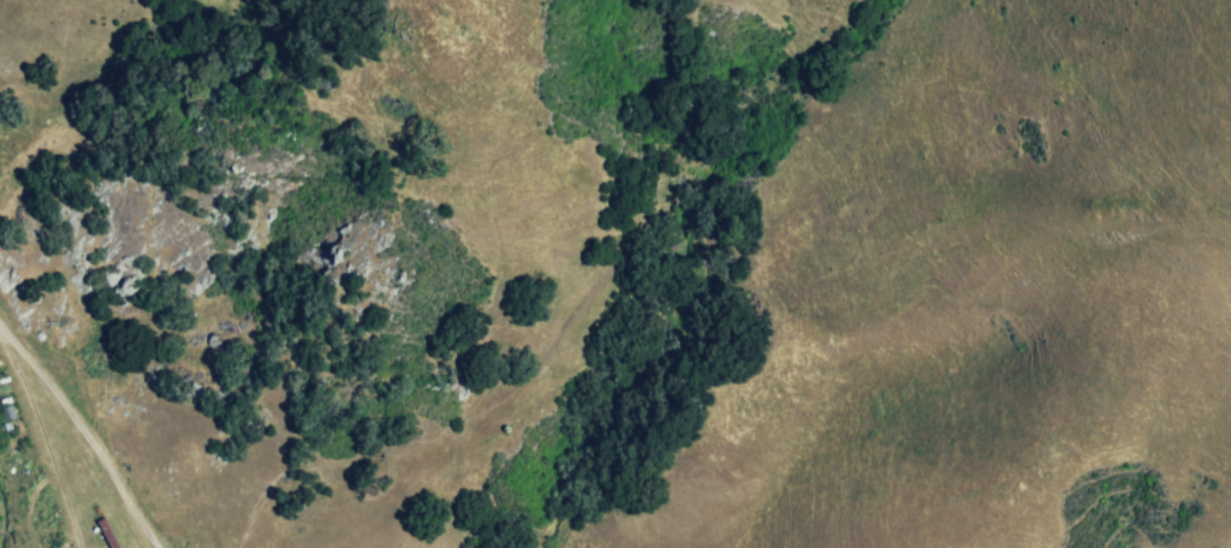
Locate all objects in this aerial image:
road: (81, 433)

